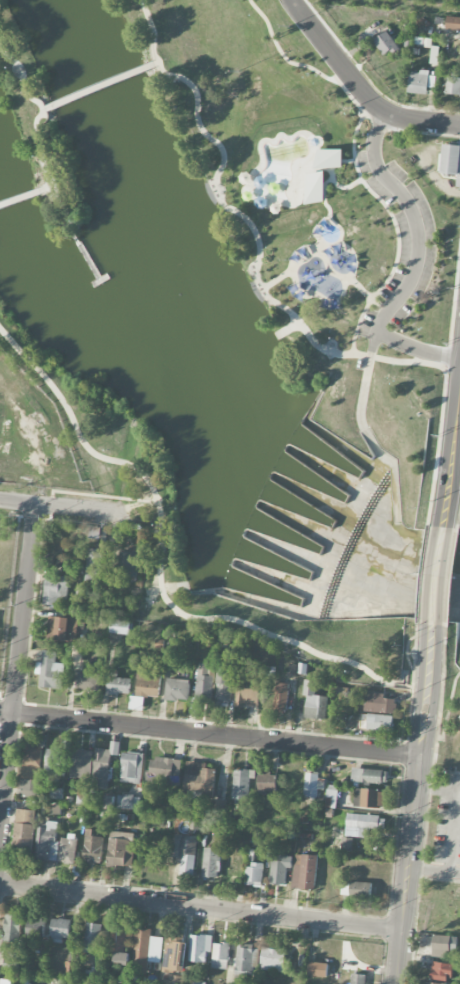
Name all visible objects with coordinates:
road: (404, 5)
building: (453, 23)
building: (386, 44)
building: (435, 54)
road: (286, 57)
road: (153, 62)
building: (421, 82)
road: (98, 84)
building: (453, 85)
road: (358, 88)
road: (45, 107)
road: (37, 130)
road: (365, 157)
building: (453, 159)
building: (315, 183)
road: (46, 188)
road: (20, 198)
road: (396, 224)
road: (254, 228)
parking lot: (419, 246)
pier: (86, 253)
road: (328, 268)
road: (387, 312)
park: (231, 314)
road: (417, 349)
road: (458, 439)
road: (452, 462)
road: (99, 494)
dam: (257, 503)
road: (61, 506)
building: (94, 533)
road: (161, 547)
building: (316, 547)
park: (442, 557)
building: (128, 563)
building: (94, 564)
road: (440, 576)
building: (55, 589)
road: (23, 608)
building: (121, 627)
building: (63, 628)
building: (170, 648)
building: (77, 655)
building: (51, 671)
road: (406, 675)
building: (84, 681)
building: (149, 681)
road: (390, 682)
building: (203, 683)
building: (118, 684)
building: (224, 687)
building: (247, 688)
building: (177, 689)
building: (280, 697)
building: (314, 702)
building: (136, 703)
building: (379, 703)
road: (6, 712)
road: (447, 713)
building: (459, 717)
building: (380, 722)
road: (216, 734)
road: (422, 743)
building: (52, 760)
building: (31, 761)
building: (81, 762)
road: (5, 764)
building: (103, 765)
building: (131, 767)
building: (164, 771)
building: (369, 775)
building: (199, 779)
building: (267, 782)
building: (312, 784)
building: (242, 785)
building: (29, 788)
road: (440, 789)
building: (57, 793)
road: (1, 796)
building: (369, 797)
building: (331, 798)
building: (128, 802)
building: (216, 805)
building: (55, 809)
building: (363, 824)
road: (450, 826)
building: (24, 832)
building: (47, 840)
building: (92, 848)
building: (121, 849)
building: (67, 850)
building: (185, 855)
building: (210, 862)
building: (230, 866)
building: (280, 868)
road: (427, 870)
building: (304, 872)
road: (453, 873)
building: (253, 874)
building: (356, 889)
road: (405, 899)
road: (201, 907)
building: (12, 927)
building: (36, 928)
building: (61, 929)
building: (93, 938)
building: (117, 938)
building: (443, 945)
building: (147, 946)
building: (199, 948)
building: (175, 954)
building: (220, 955)
road: (399, 957)
building: (122, 958)
building: (273, 959)
building: (245, 961)
building: (317, 969)
building: (441, 971)
building: (358, 979)
building: (61, 981)
building: (168, 982)
building: (198, 983)
building: (433, 983)

